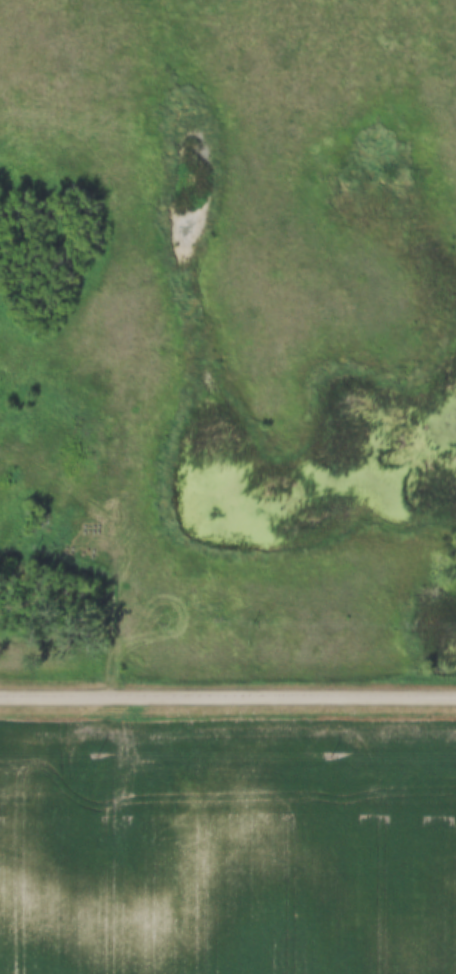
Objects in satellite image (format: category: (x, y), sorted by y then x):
road: (228, 696)

